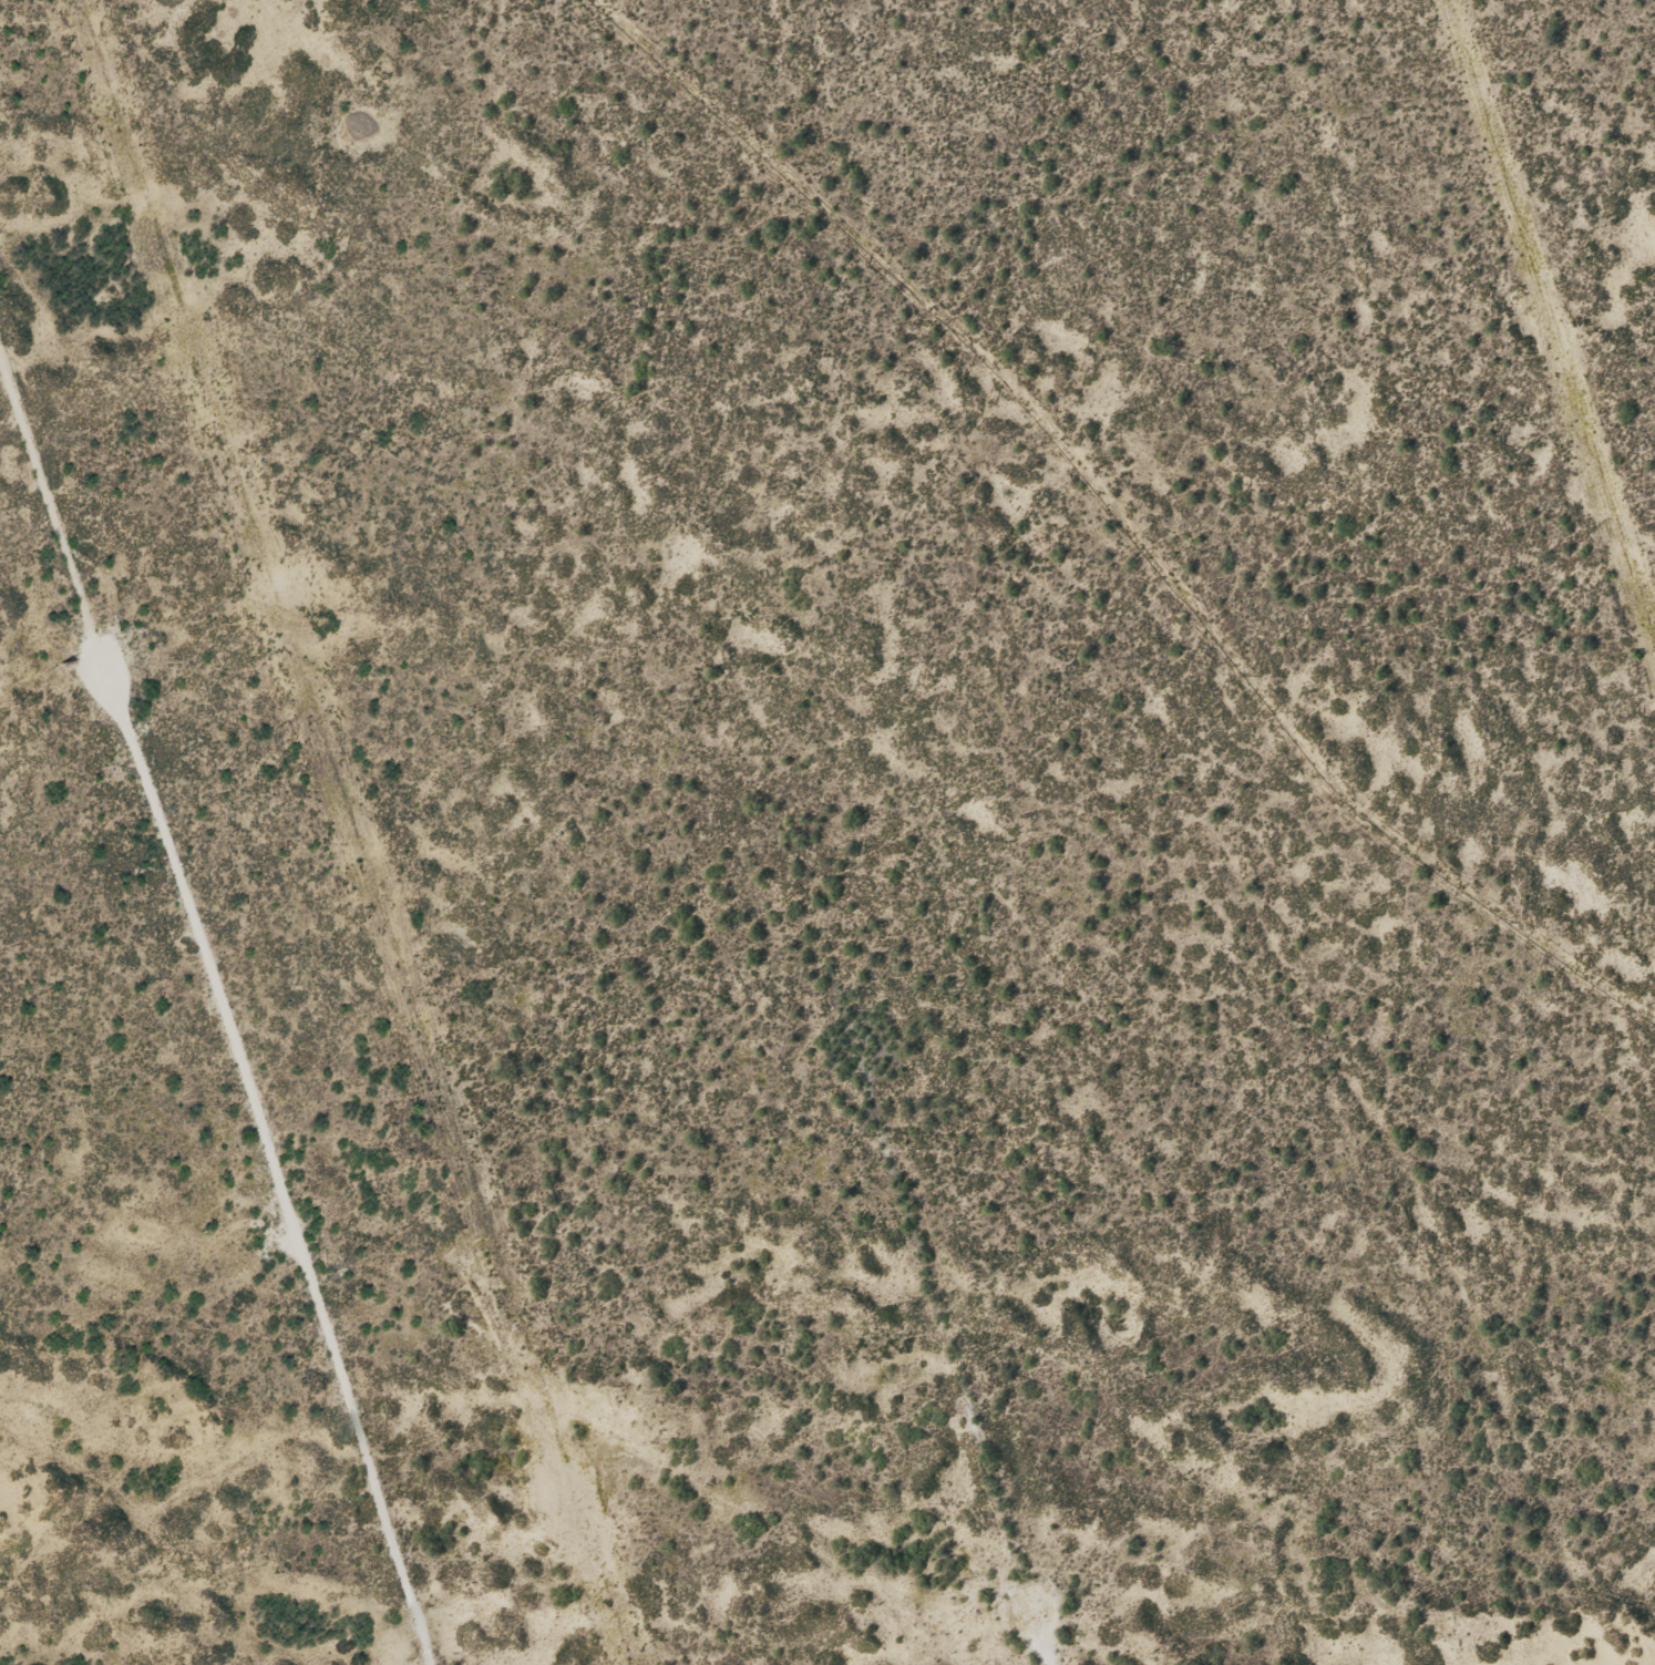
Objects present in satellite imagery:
road: (229, 1017)

